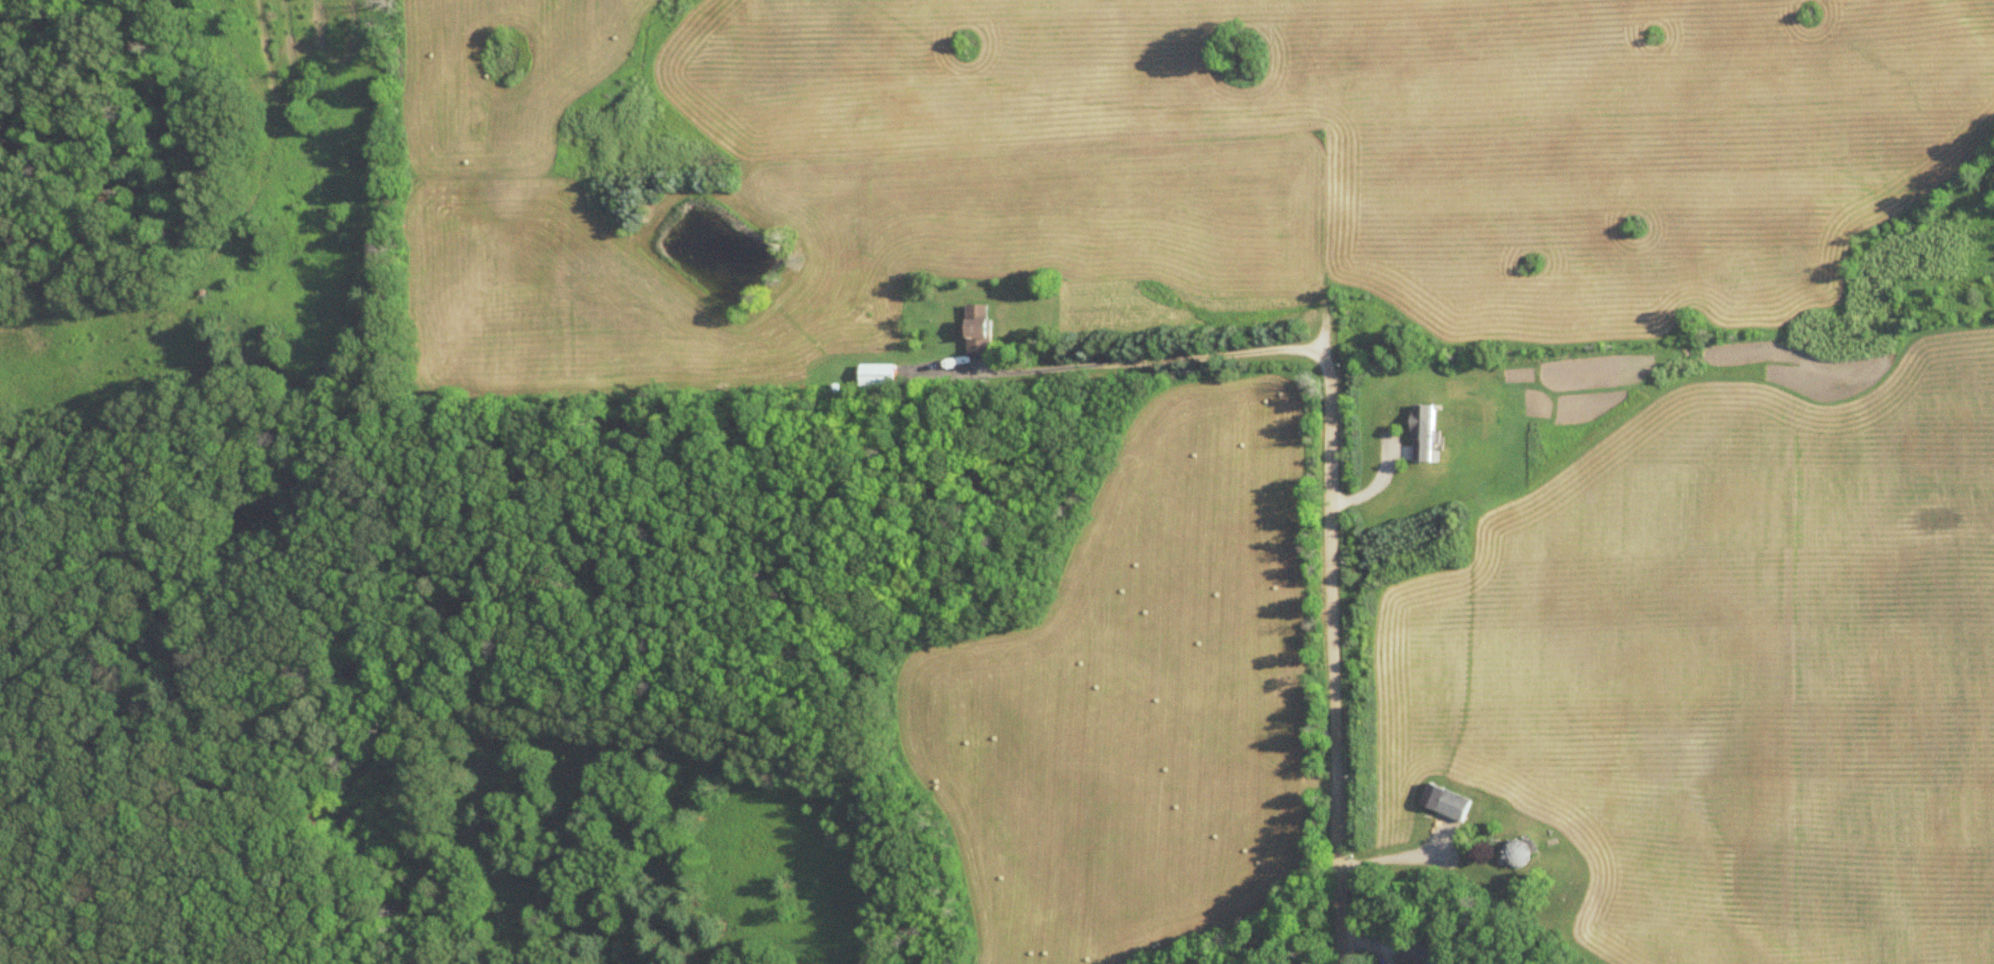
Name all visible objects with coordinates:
crop: (1141, 169)
building: (982, 328)
road: (1118, 359)
building: (876, 374)
building: (1428, 433)
road: (1332, 653)
crop: (1729, 673)
building: (1448, 801)
building: (1423, 953)

